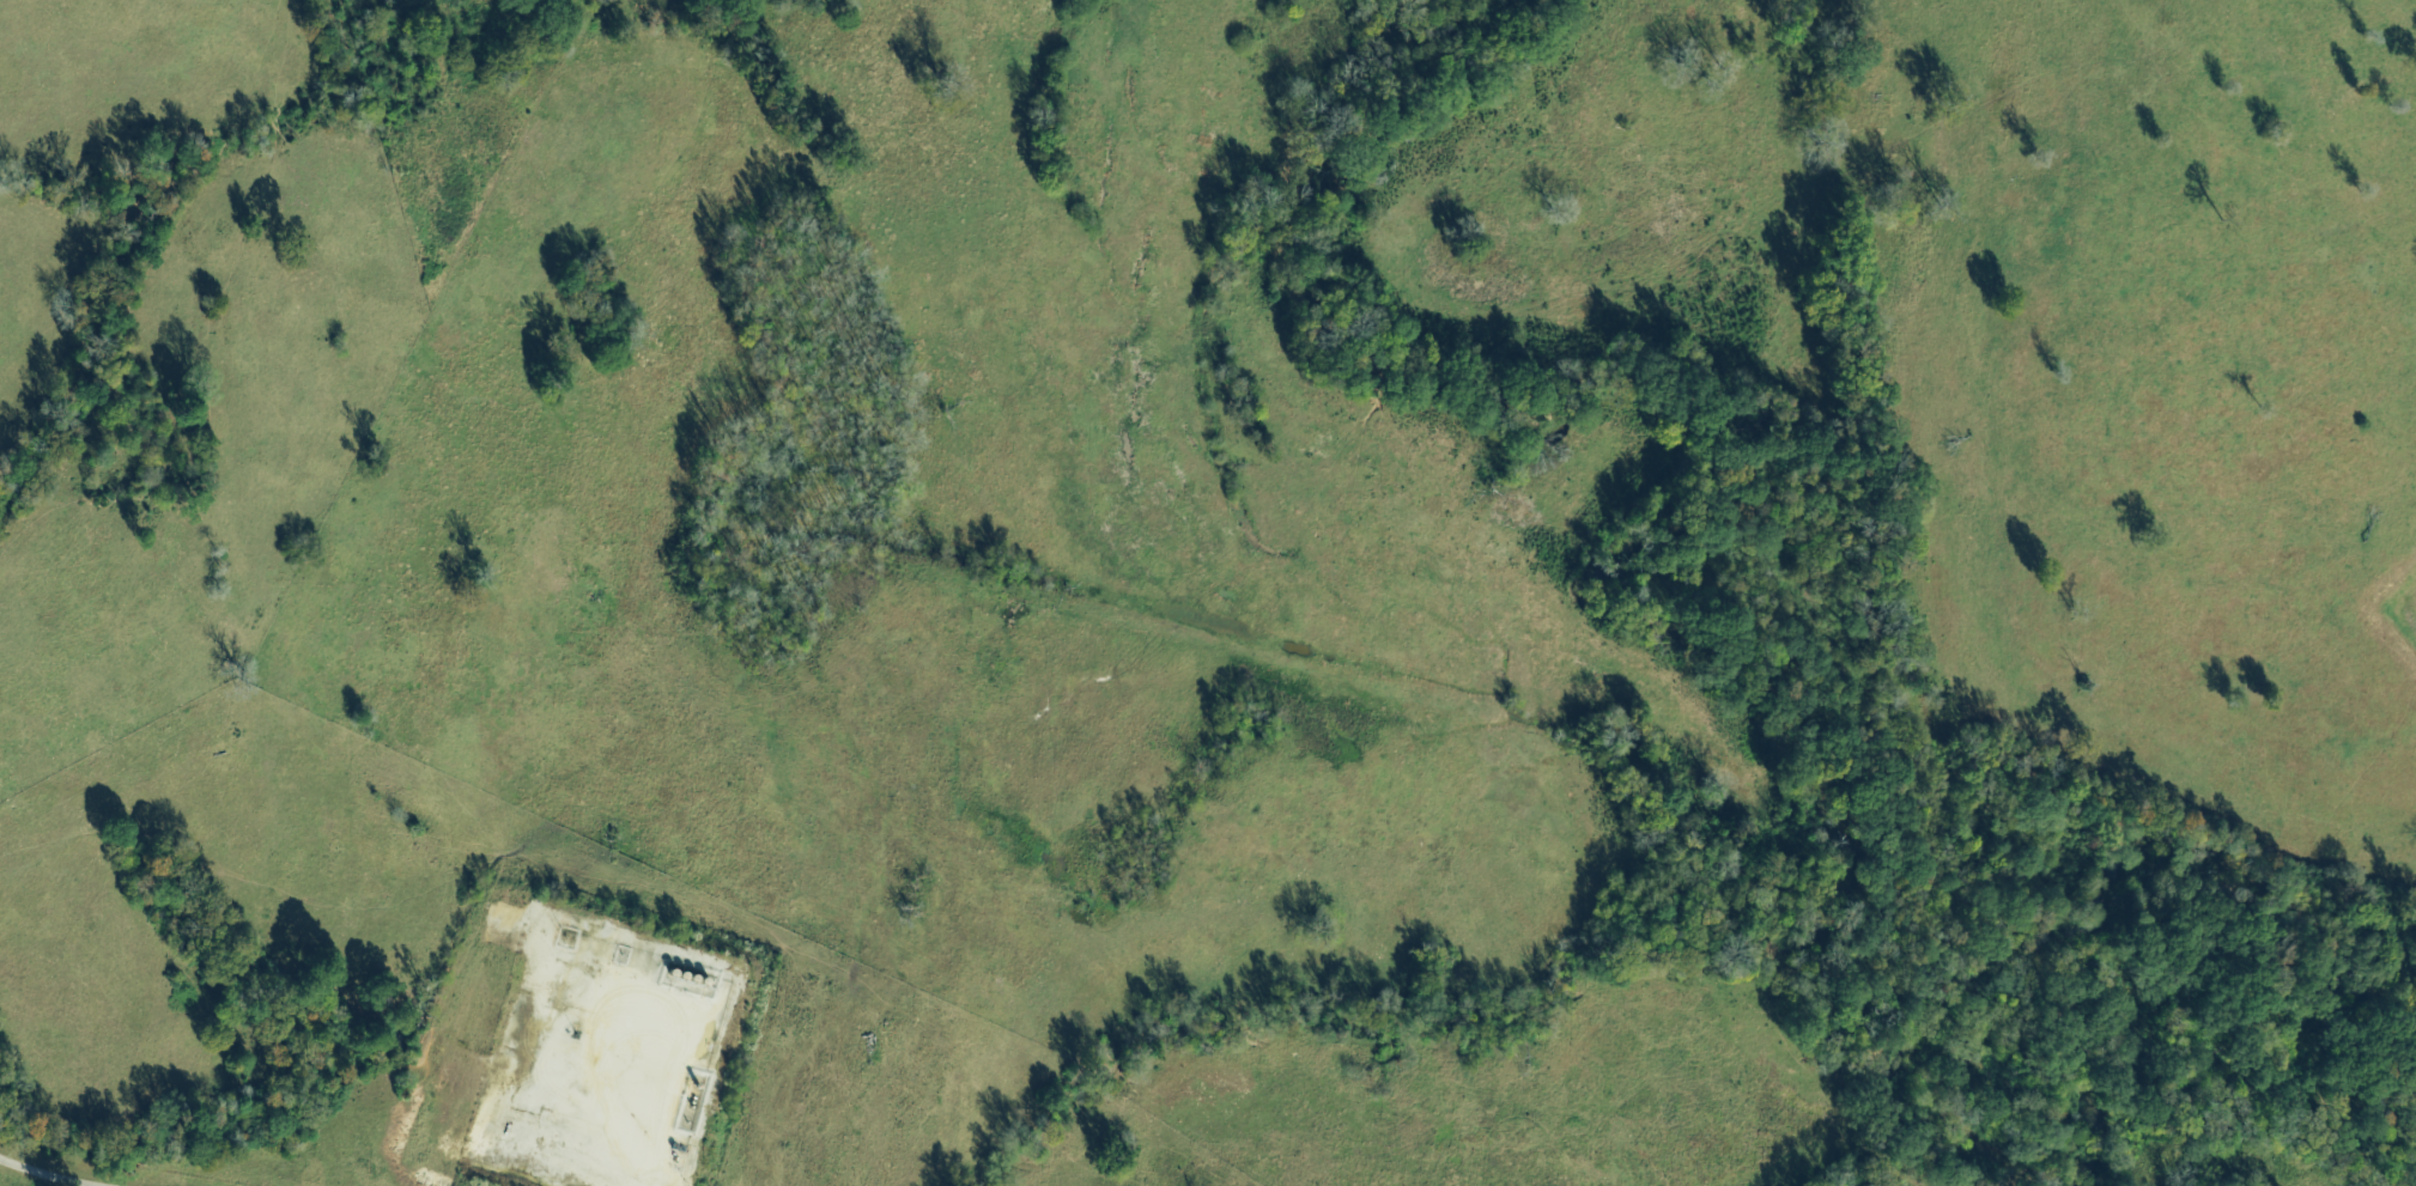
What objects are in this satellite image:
road: (41, 1170)

